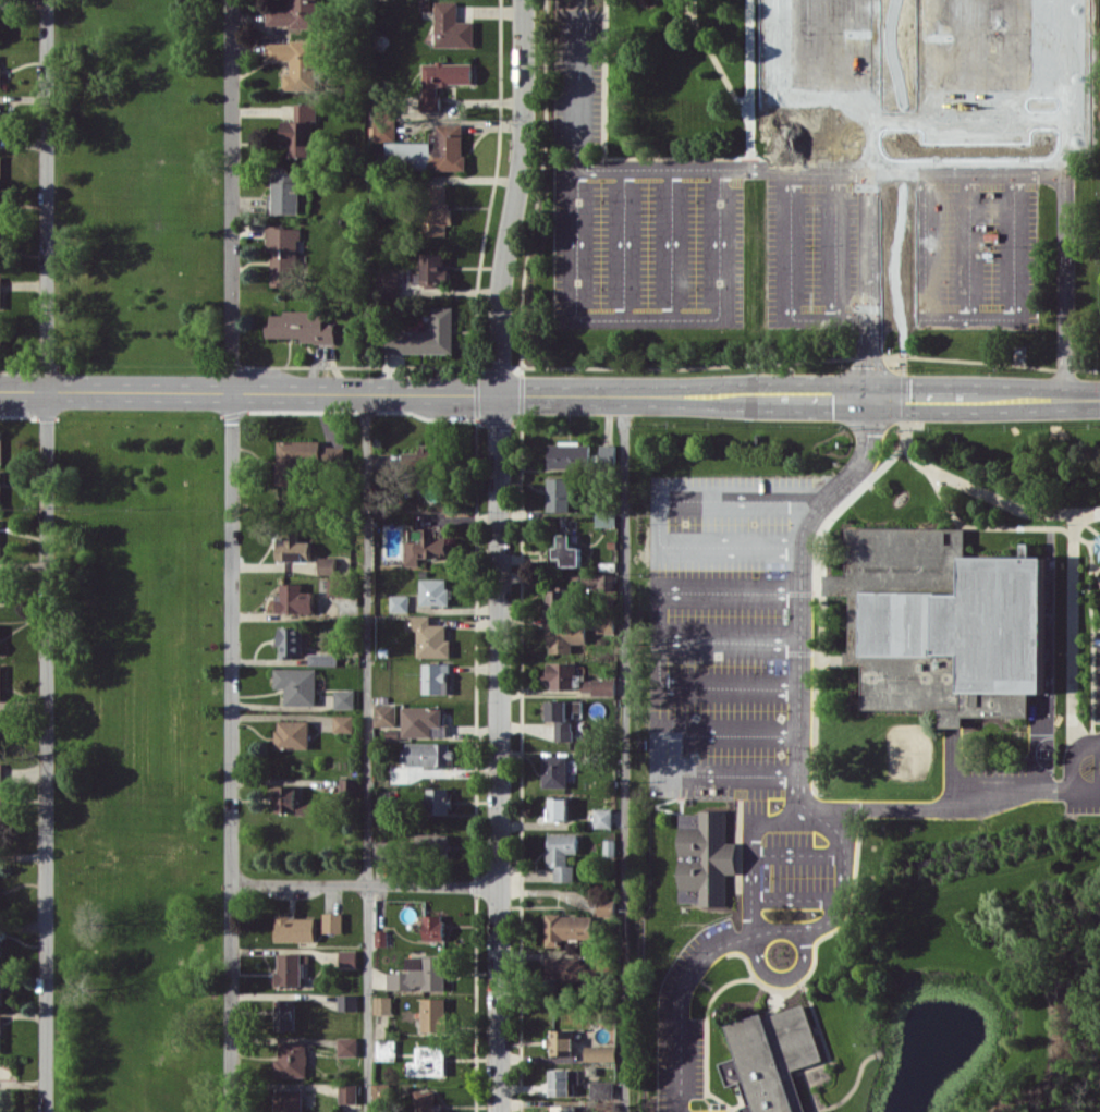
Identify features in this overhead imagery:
building: (566, 3)
road: (692, 9)
building: (294, 14)
building: (0, 25)
building: (452, 26)
road: (831, 46)
road: (924, 46)
road: (968, 46)
parking lot: (900, 51)
road: (747, 60)
building: (295, 62)
building: (0, 76)
parking lot: (577, 77)
building: (442, 80)
road: (578, 84)
road: (728, 84)
road: (902, 91)
building: (0, 115)
building: (383, 121)
building: (300, 130)
building: (430, 150)
road: (607, 156)
building: (0, 167)
road: (599, 168)
building: (285, 192)
road: (514, 196)
road: (537, 196)
road: (871, 198)
road: (1061, 198)
building: (0, 203)
building: (437, 209)
parking lot: (647, 242)
road: (623, 243)
road: (671, 243)
parking lot: (900, 243)
building: (0, 244)
road: (834, 244)
road: (924, 245)
road: (968, 245)
building: (283, 255)
building: (432, 269)
building: (0, 292)
building: (821, 315)
road: (902, 318)
building: (301, 326)
building: (425, 335)
road: (783, 359)
road: (248, 392)
road: (798, 395)
traffic signals: (867, 396)
road: (905, 431)
building: (1, 447)
building: (608, 452)
building: (333, 454)
building: (569, 454)
building: (425, 455)
building: (294, 459)
building: (0, 487)
building: (559, 493)
road: (657, 512)
road: (1086, 512)
building: (606, 517)
road: (1086, 523)
road: (998, 525)
road: (823, 533)
building: (1098, 545)
building: (424, 546)
building: (293, 548)
building: (0, 552)
building: (564, 552)
park: (137, 554)
road: (47, 555)
road: (232, 555)
road: (1096, 564)
building: (327, 565)
road: (1096, 571)
building: (604, 581)
building: (339, 586)
building: (1, 588)
building: (435, 591)
building: (294, 599)
building: (559, 600)
building: (400, 602)
building: (939, 622)
building: (604, 623)
road: (1096, 626)
parking lot: (733, 631)
building: (0, 637)
building: (429, 637)
building: (561, 637)
road: (659, 639)
road: (1091, 640)
building: (291, 641)
road: (730, 643)
building: (323, 659)
road: (1047, 672)
parking lot: (1098, 673)
building: (561, 674)
building: (436, 677)
building: (0, 682)
building: (297, 684)
building: (598, 686)
building: (344, 698)
building: (384, 714)
building: (563, 716)
building: (1, 717)
building: (423, 721)
road: (814, 721)
road: (659, 722)
building: (343, 723)
building: (293, 734)
road: (798, 745)
road: (367, 751)
road: (499, 753)
road: (625, 753)
road: (690, 753)
road: (1071, 756)
building: (421, 757)
road: (952, 768)
building: (555, 771)
parking lot: (1083, 772)
parking lot: (992, 784)
building: (347, 785)
building: (1, 792)
building: (439, 799)
building: (291, 801)
building: (558, 808)
building: (387, 816)
building: (602, 817)
road: (737, 832)
road: (751, 843)
building: (432, 844)
building: (610, 846)
building: (384, 850)
road: (797, 853)
building: (562, 855)
building: (705, 857)
parking lot: (795, 869)
road: (365, 883)
road: (795, 897)
building: (607, 907)
road: (834, 911)
building: (333, 921)
building: (294, 927)
building: (433, 927)
building: (567, 928)
road: (818, 937)
building: (1, 944)
building: (349, 957)
building: (291, 968)
building: (566, 968)
building: (420, 974)
road: (783, 976)
building: (2, 987)
building: (347, 1002)
building: (383, 1004)
road: (680, 1004)
building: (433, 1014)
parking lot: (685, 1015)
building: (285, 1016)
building: (0, 1032)
road: (706, 1032)
road: (820, 1032)
building: (561, 1041)
building: (347, 1046)
building: (387, 1050)
building: (601, 1052)
building: (769, 1058)
building: (292, 1060)
building: (428, 1061)
road: (823, 1076)
building: (562, 1080)
building: (602, 1089)
road: (851, 1089)
road: (810, 1090)
building: (381, 1092)
building: (349, 1093)
building: (0, 1100)
building: (290, 1100)
building: (428, 1101)
road: (735, 1105)
building: (562, 1108)
parking lot: (707, 1111)

